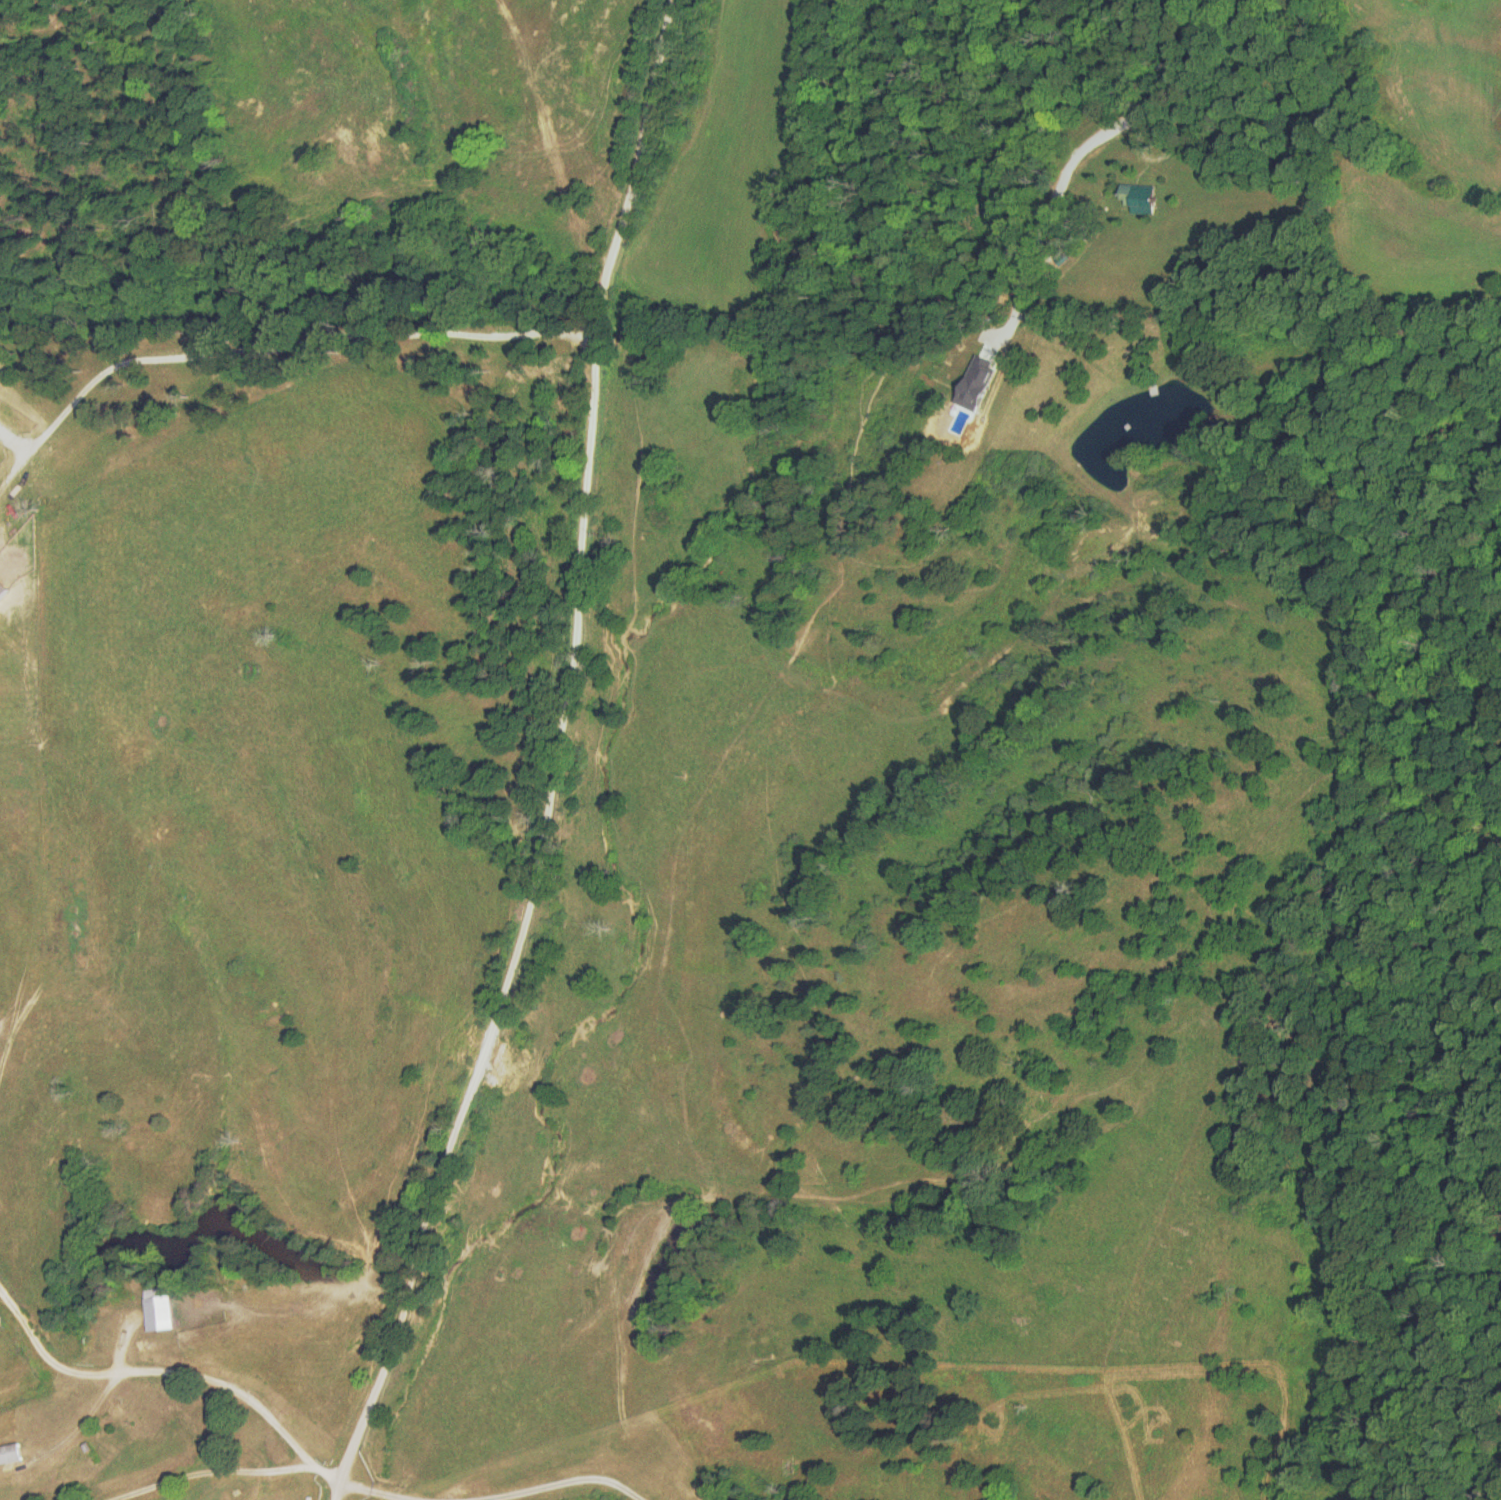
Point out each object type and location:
building: (1124, 194)
road: (556, 714)
building: (163, 1310)
building: (3, 1322)
road: (241, 1428)
building: (15, 1454)
road: (410, 1470)
road: (460, 1492)

